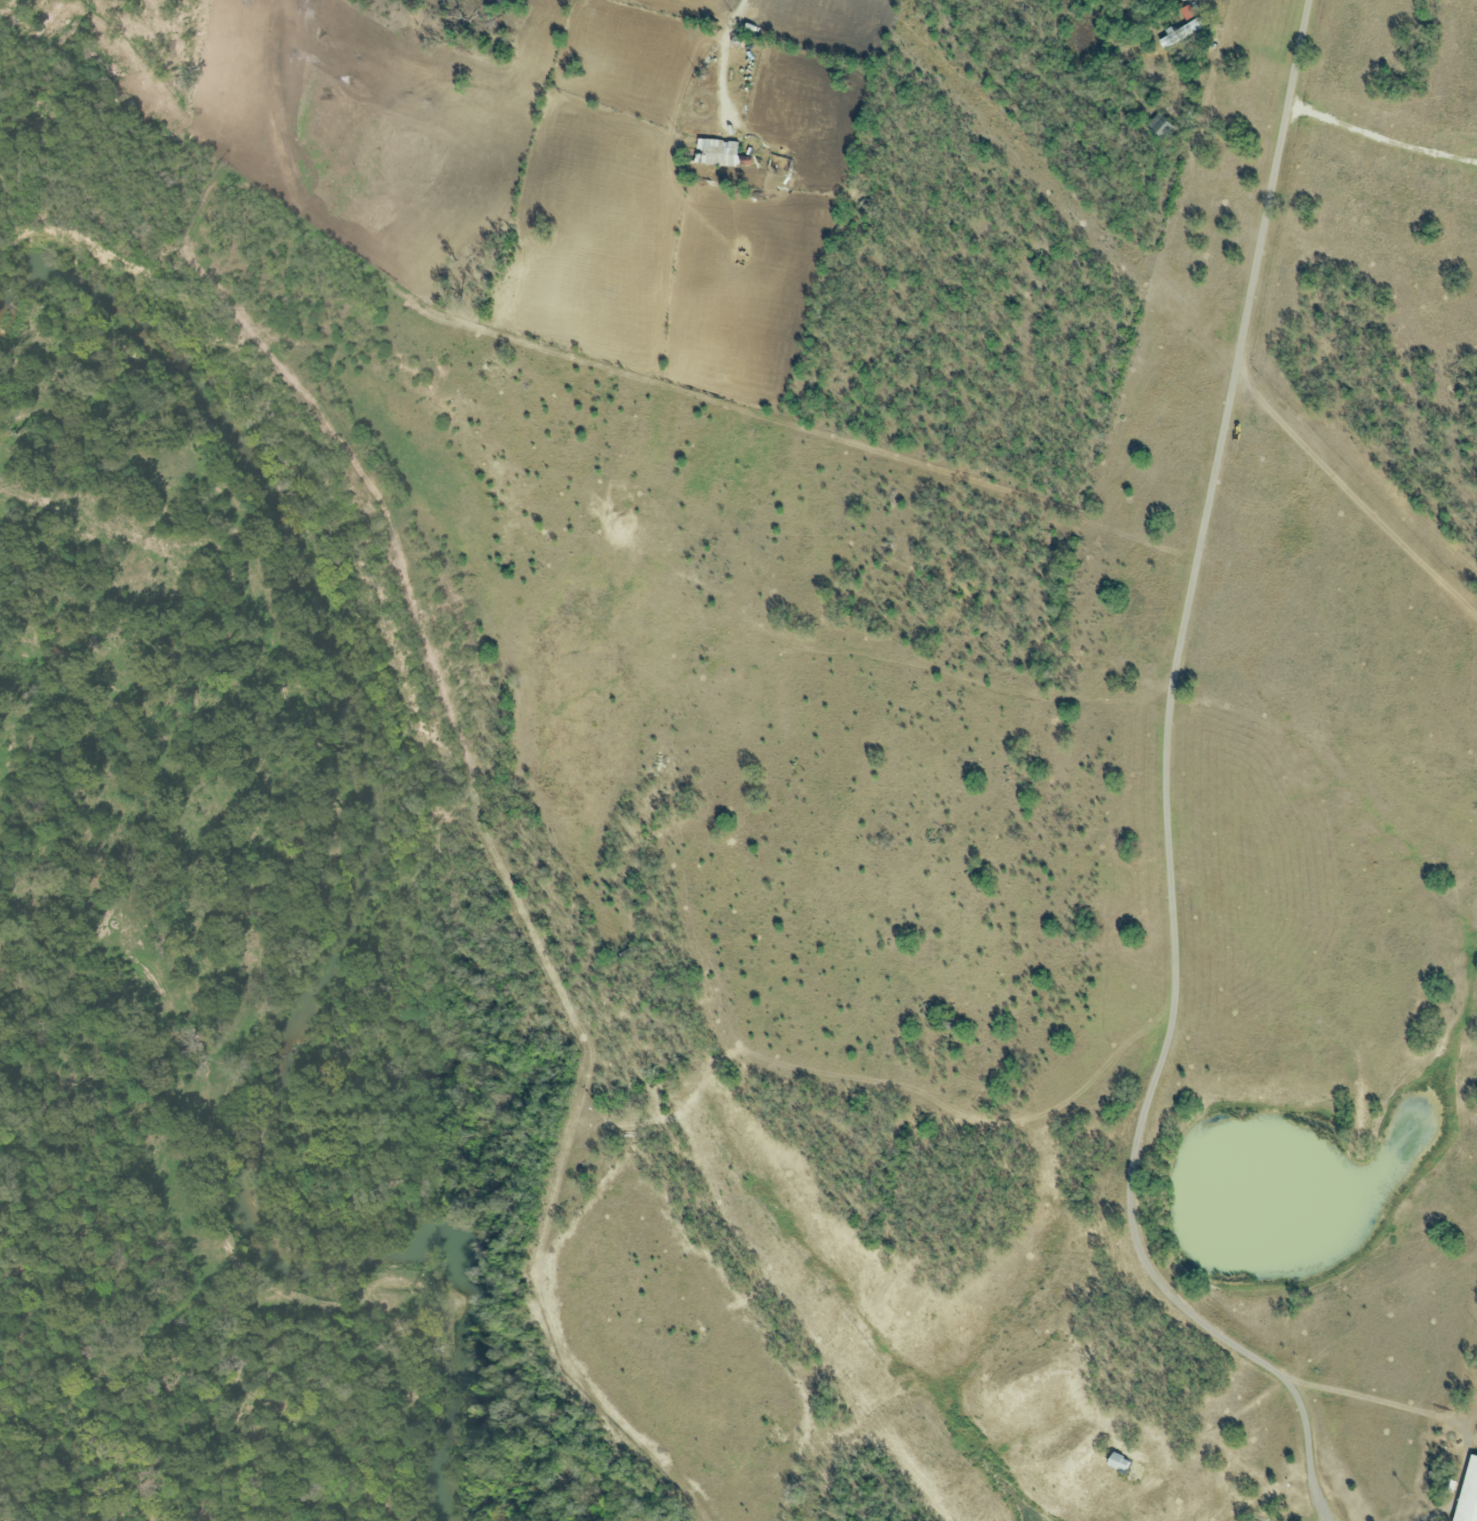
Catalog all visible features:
building: (1187, 12)
road: (736, 14)
building: (1180, 32)
building: (1161, 126)
road: (1381, 138)
building: (716, 152)
road: (1168, 718)
river: (353, 926)
road: (1431, 1415)
road: (1309, 1446)
building: (1468, 1493)

